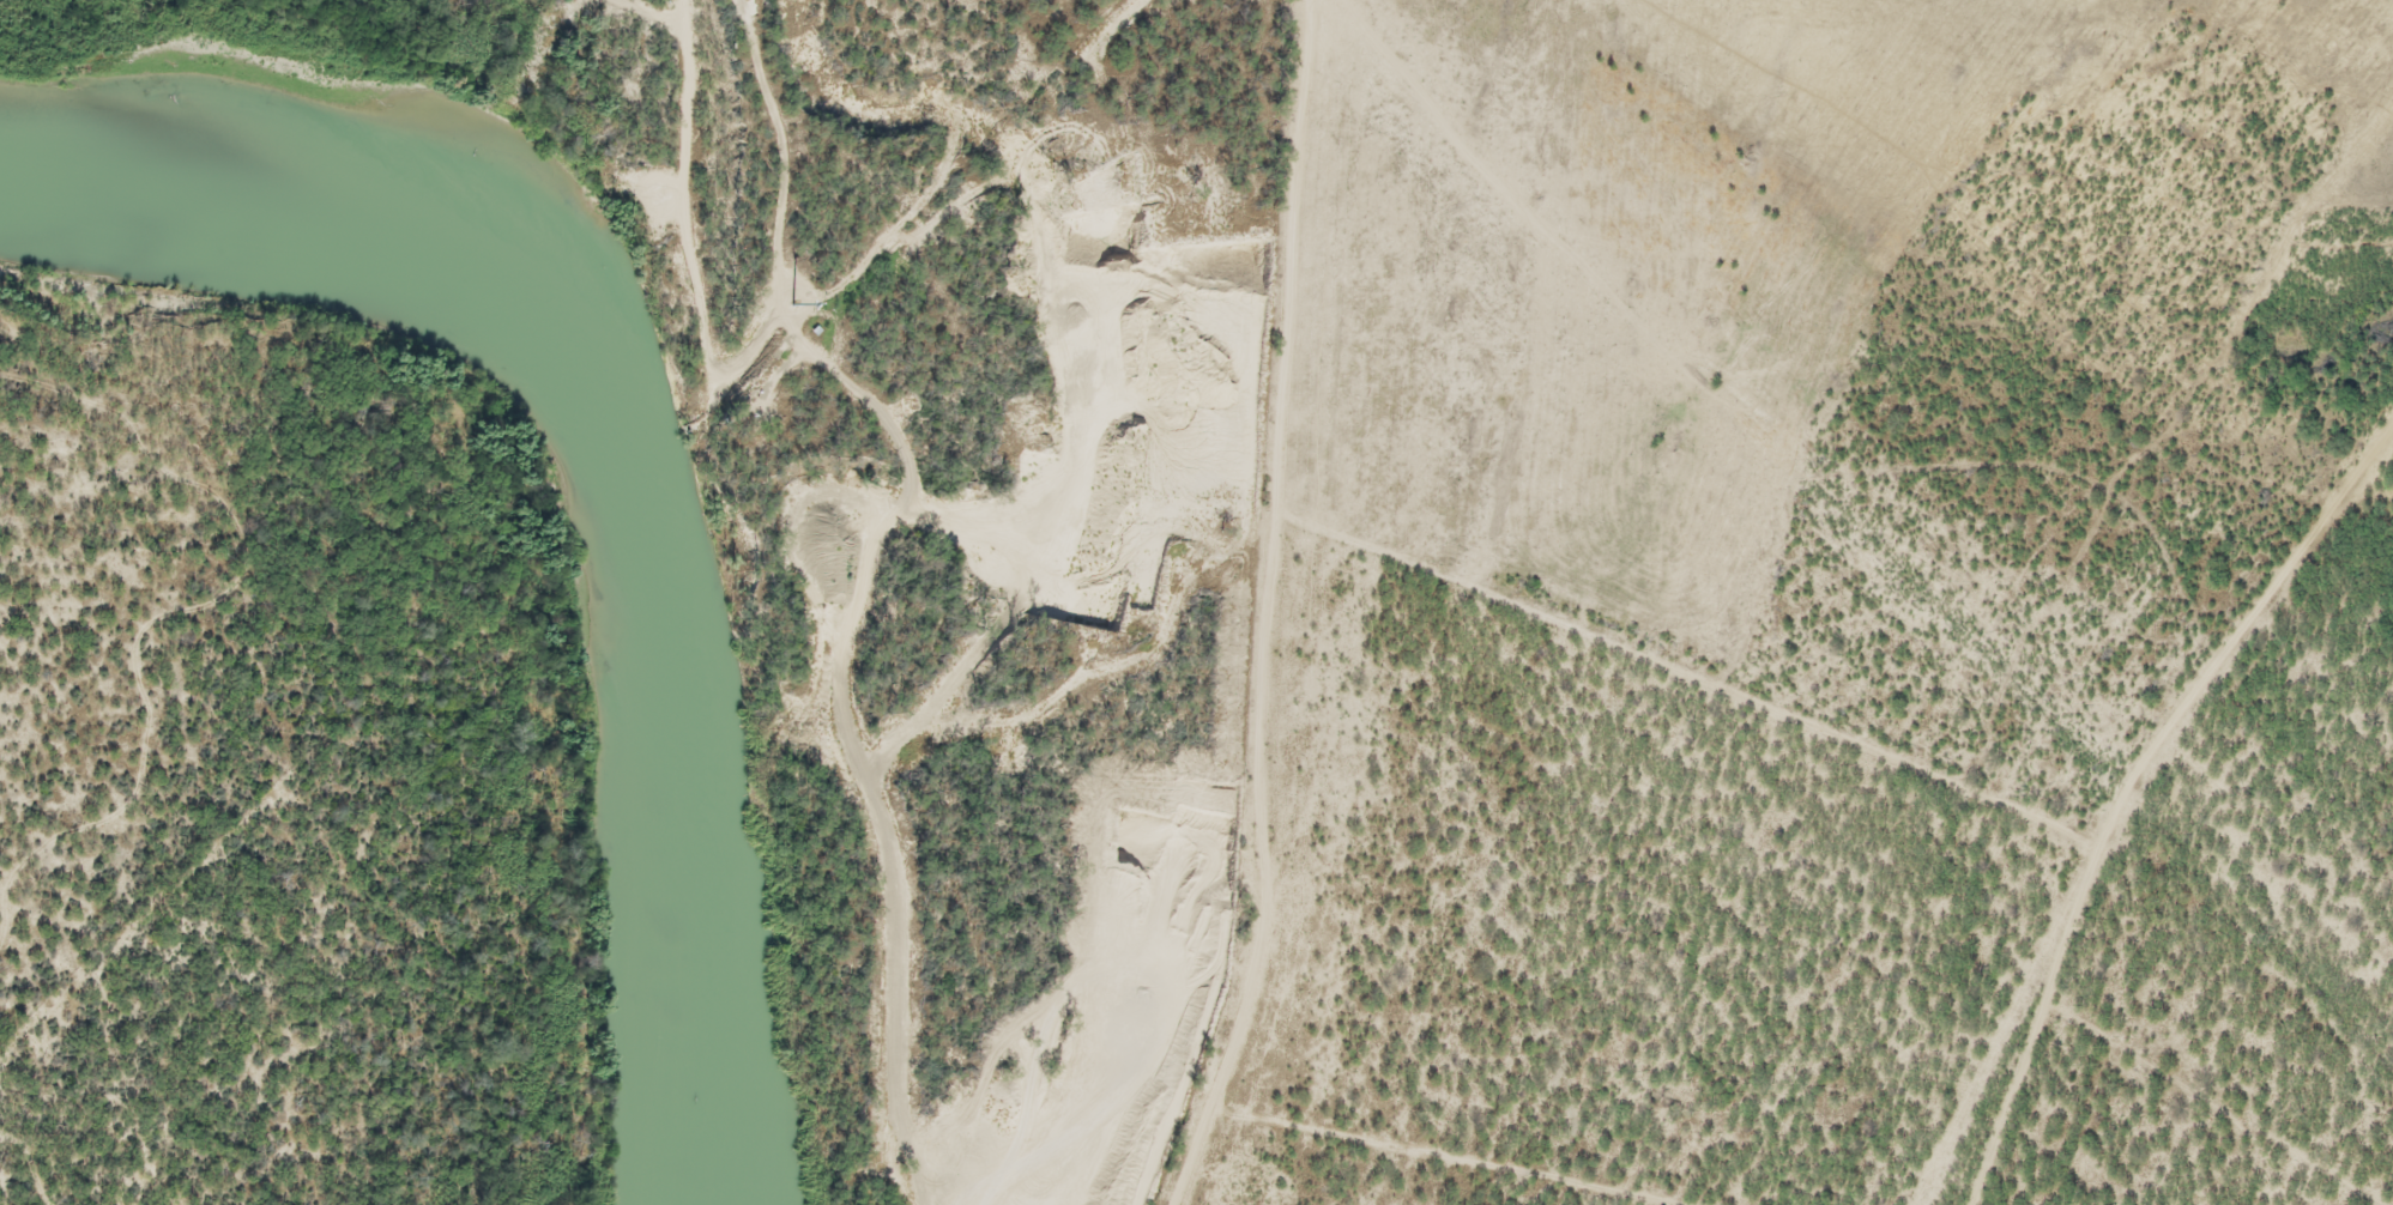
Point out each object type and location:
road: (781, 193)
road: (1721, 394)
river: (602, 461)
road: (1269, 607)
road: (2126, 785)
road: (2353, 1018)

